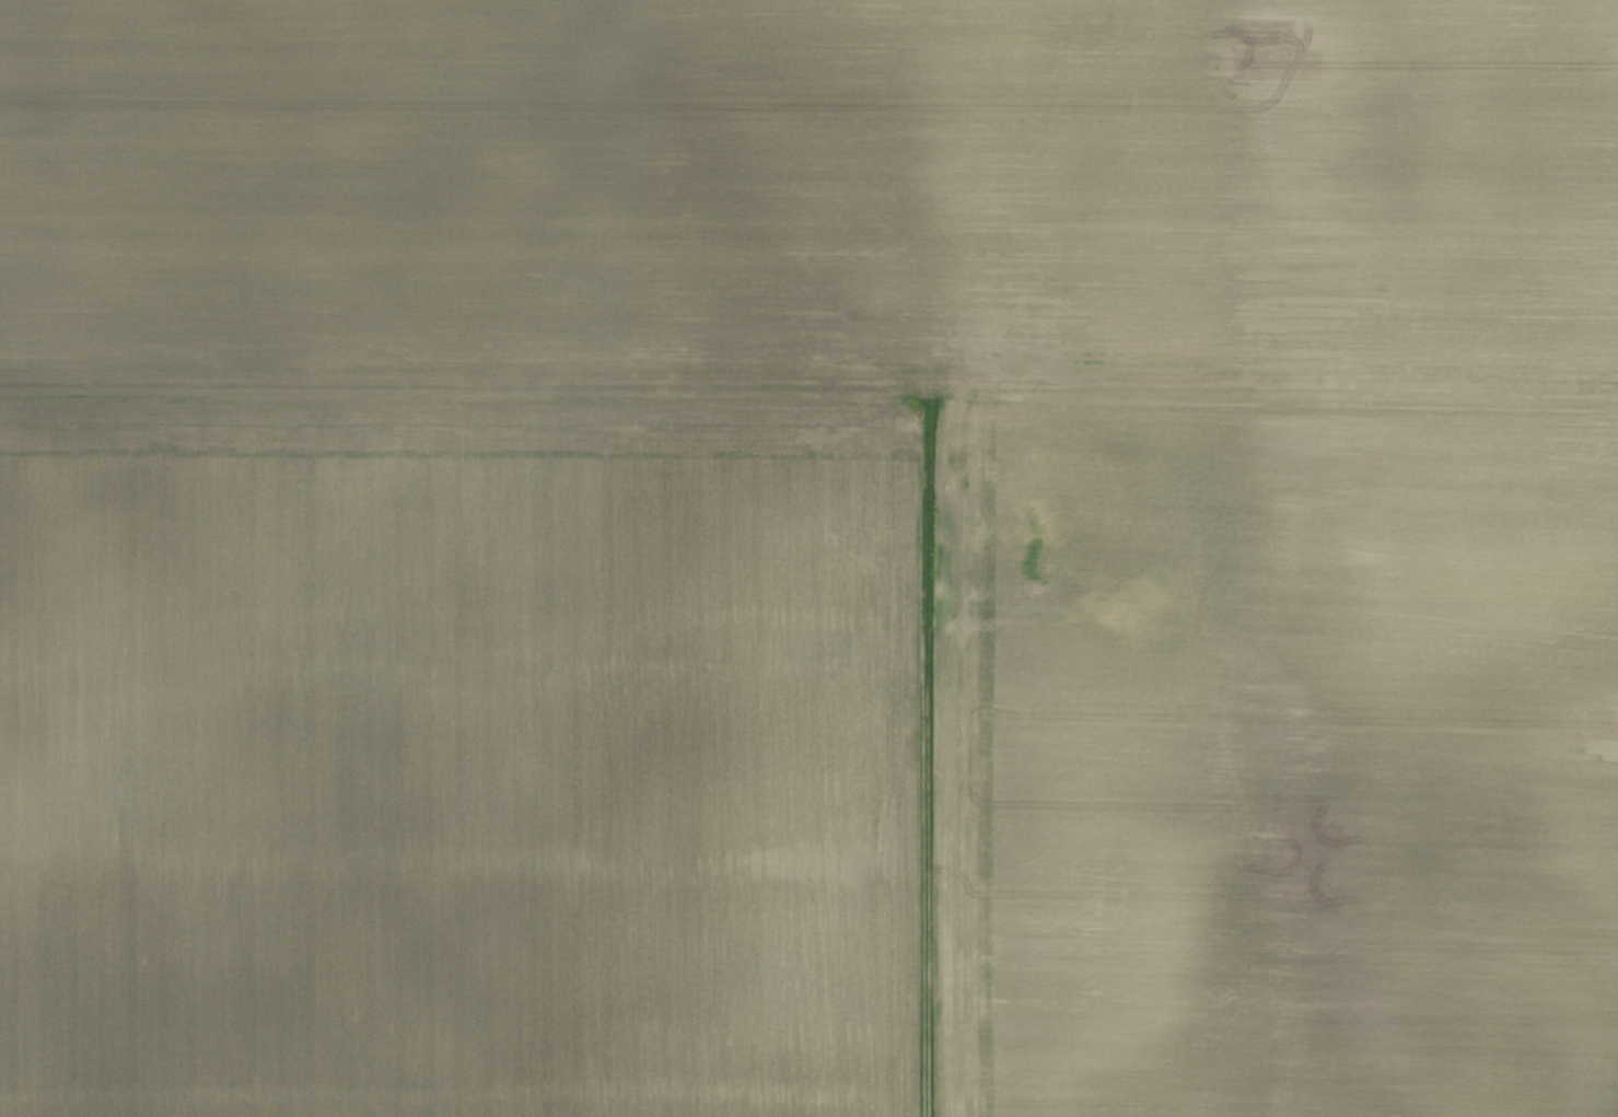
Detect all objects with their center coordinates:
road: (916, 772)

